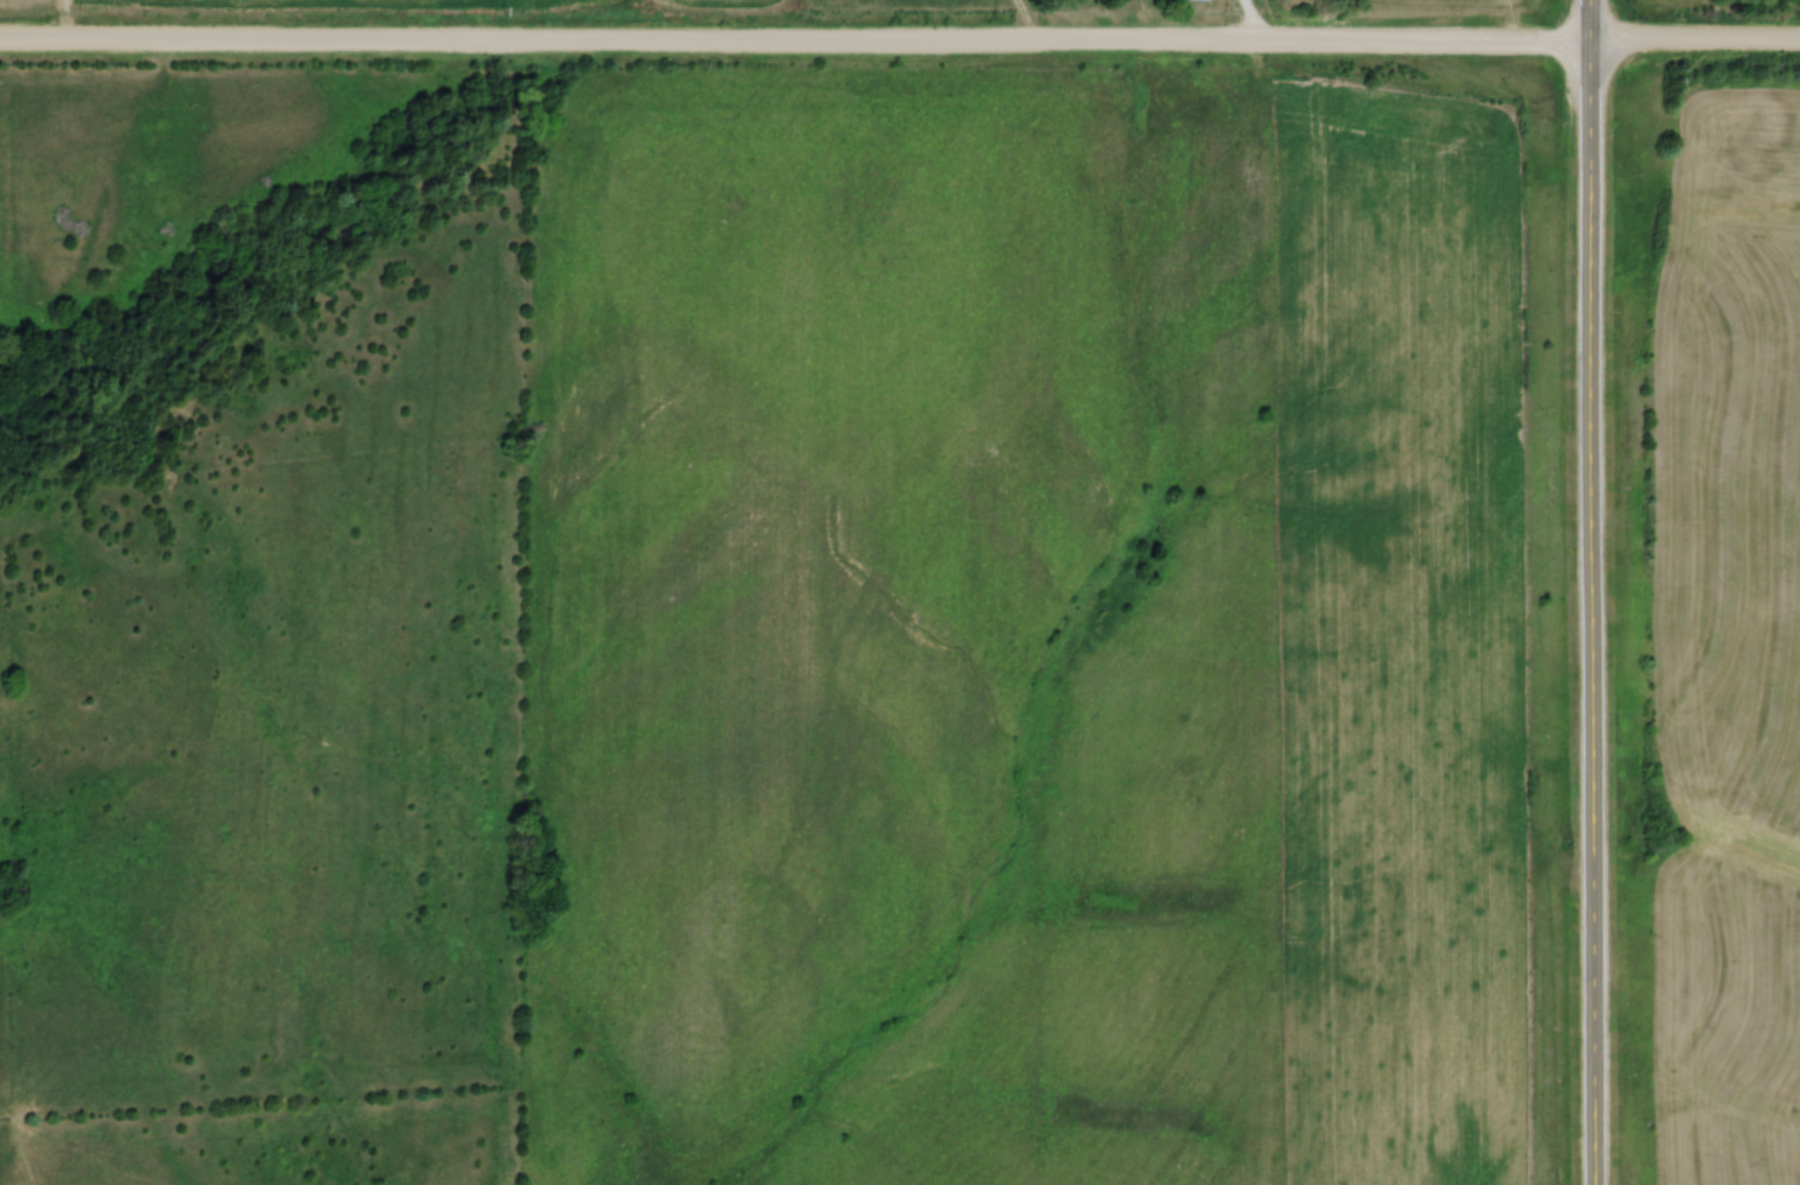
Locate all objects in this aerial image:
building: (1193, 0)
road: (1249, 24)
road: (899, 49)
road: (1587, 591)

